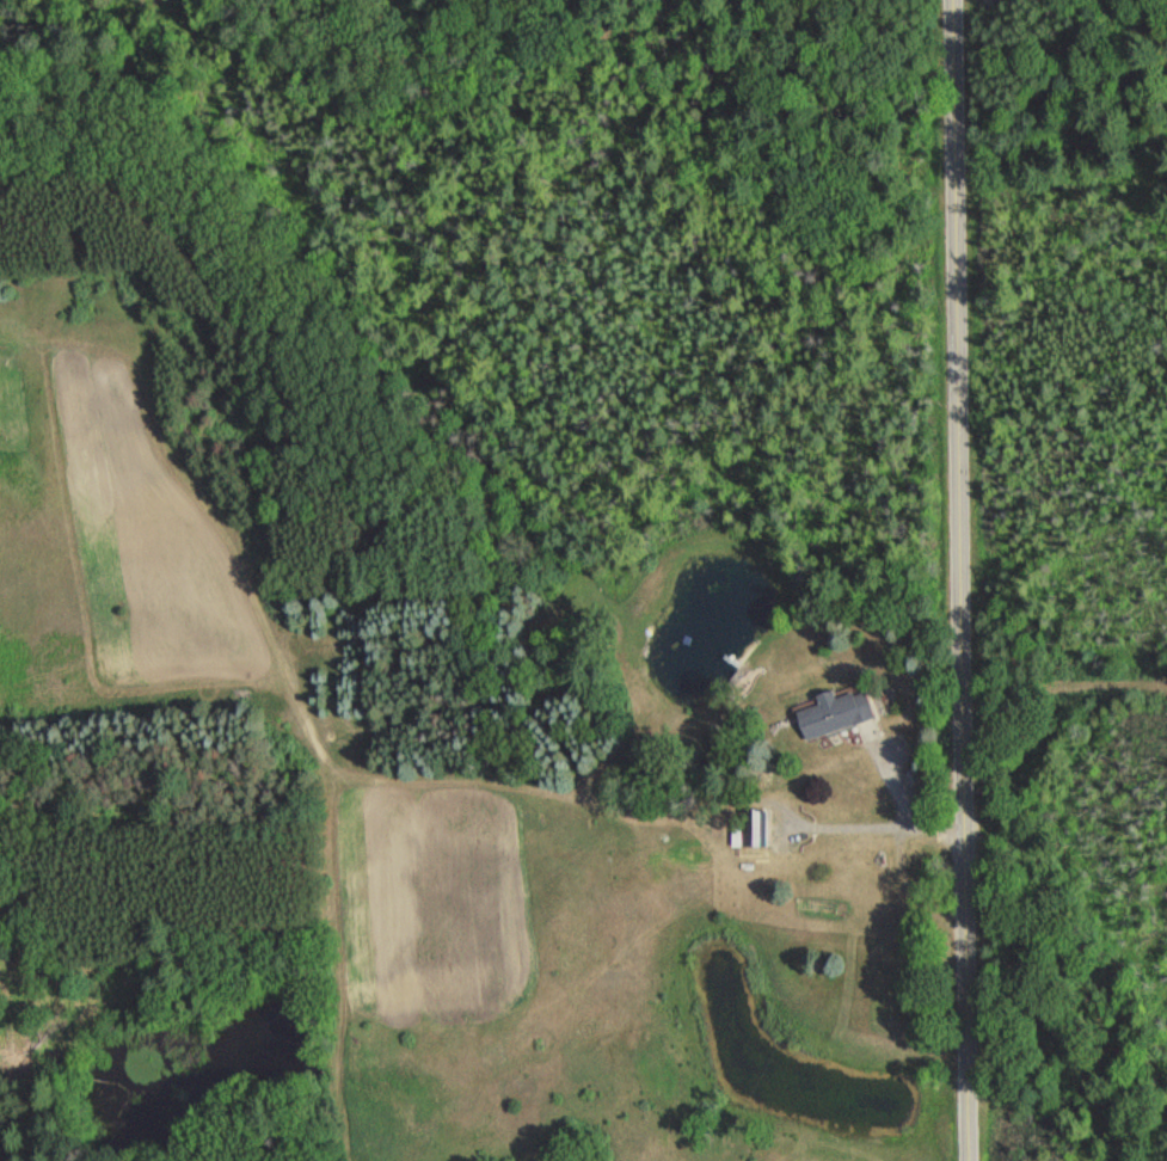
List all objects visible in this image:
road: (968, 580)
building: (835, 713)
building: (754, 829)

